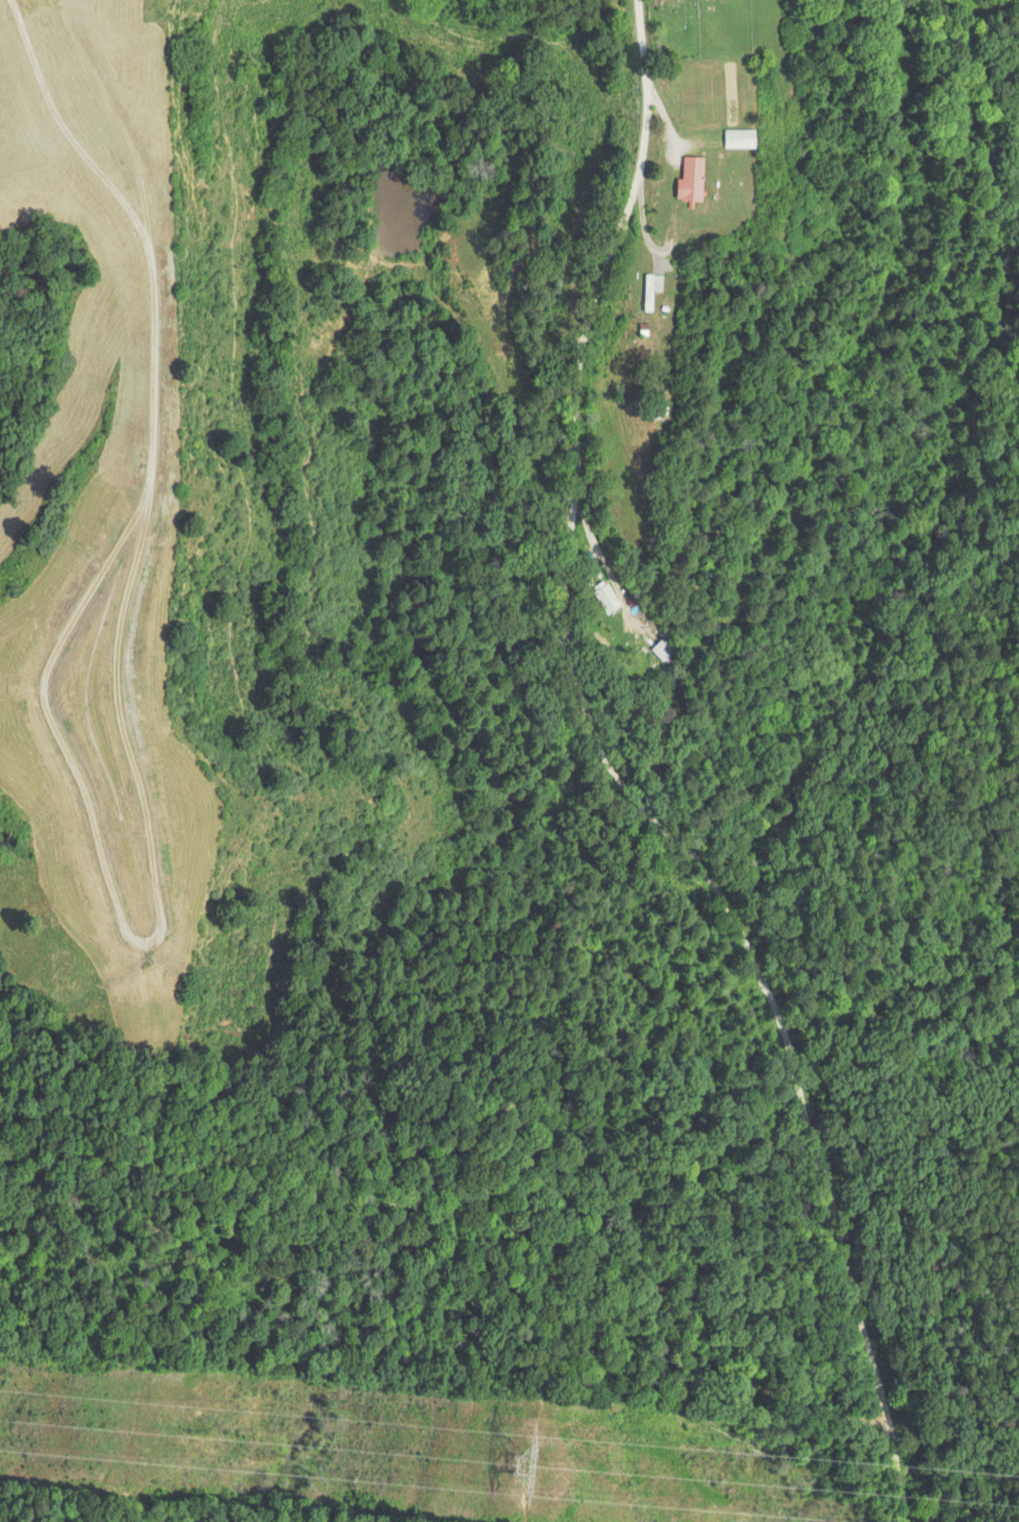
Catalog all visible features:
building: (739, 138)
building: (690, 178)
building: (650, 289)
building: (606, 597)
building: (662, 649)
road: (623, 780)
road: (305, 835)
power tower: (525, 1469)

